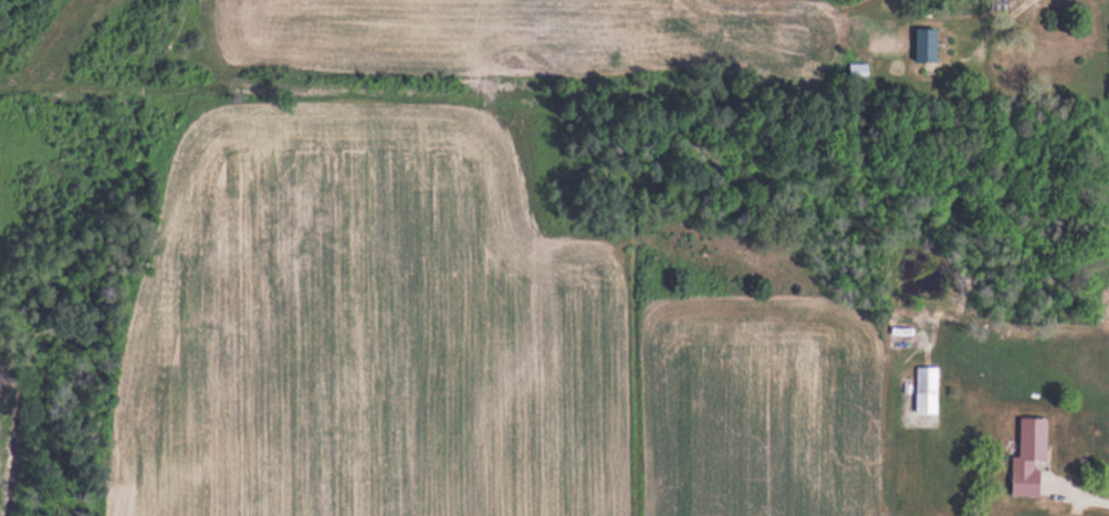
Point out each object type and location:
road: (998, 23)
building: (924, 43)
building: (857, 70)
building: (923, 378)
building: (1028, 454)

